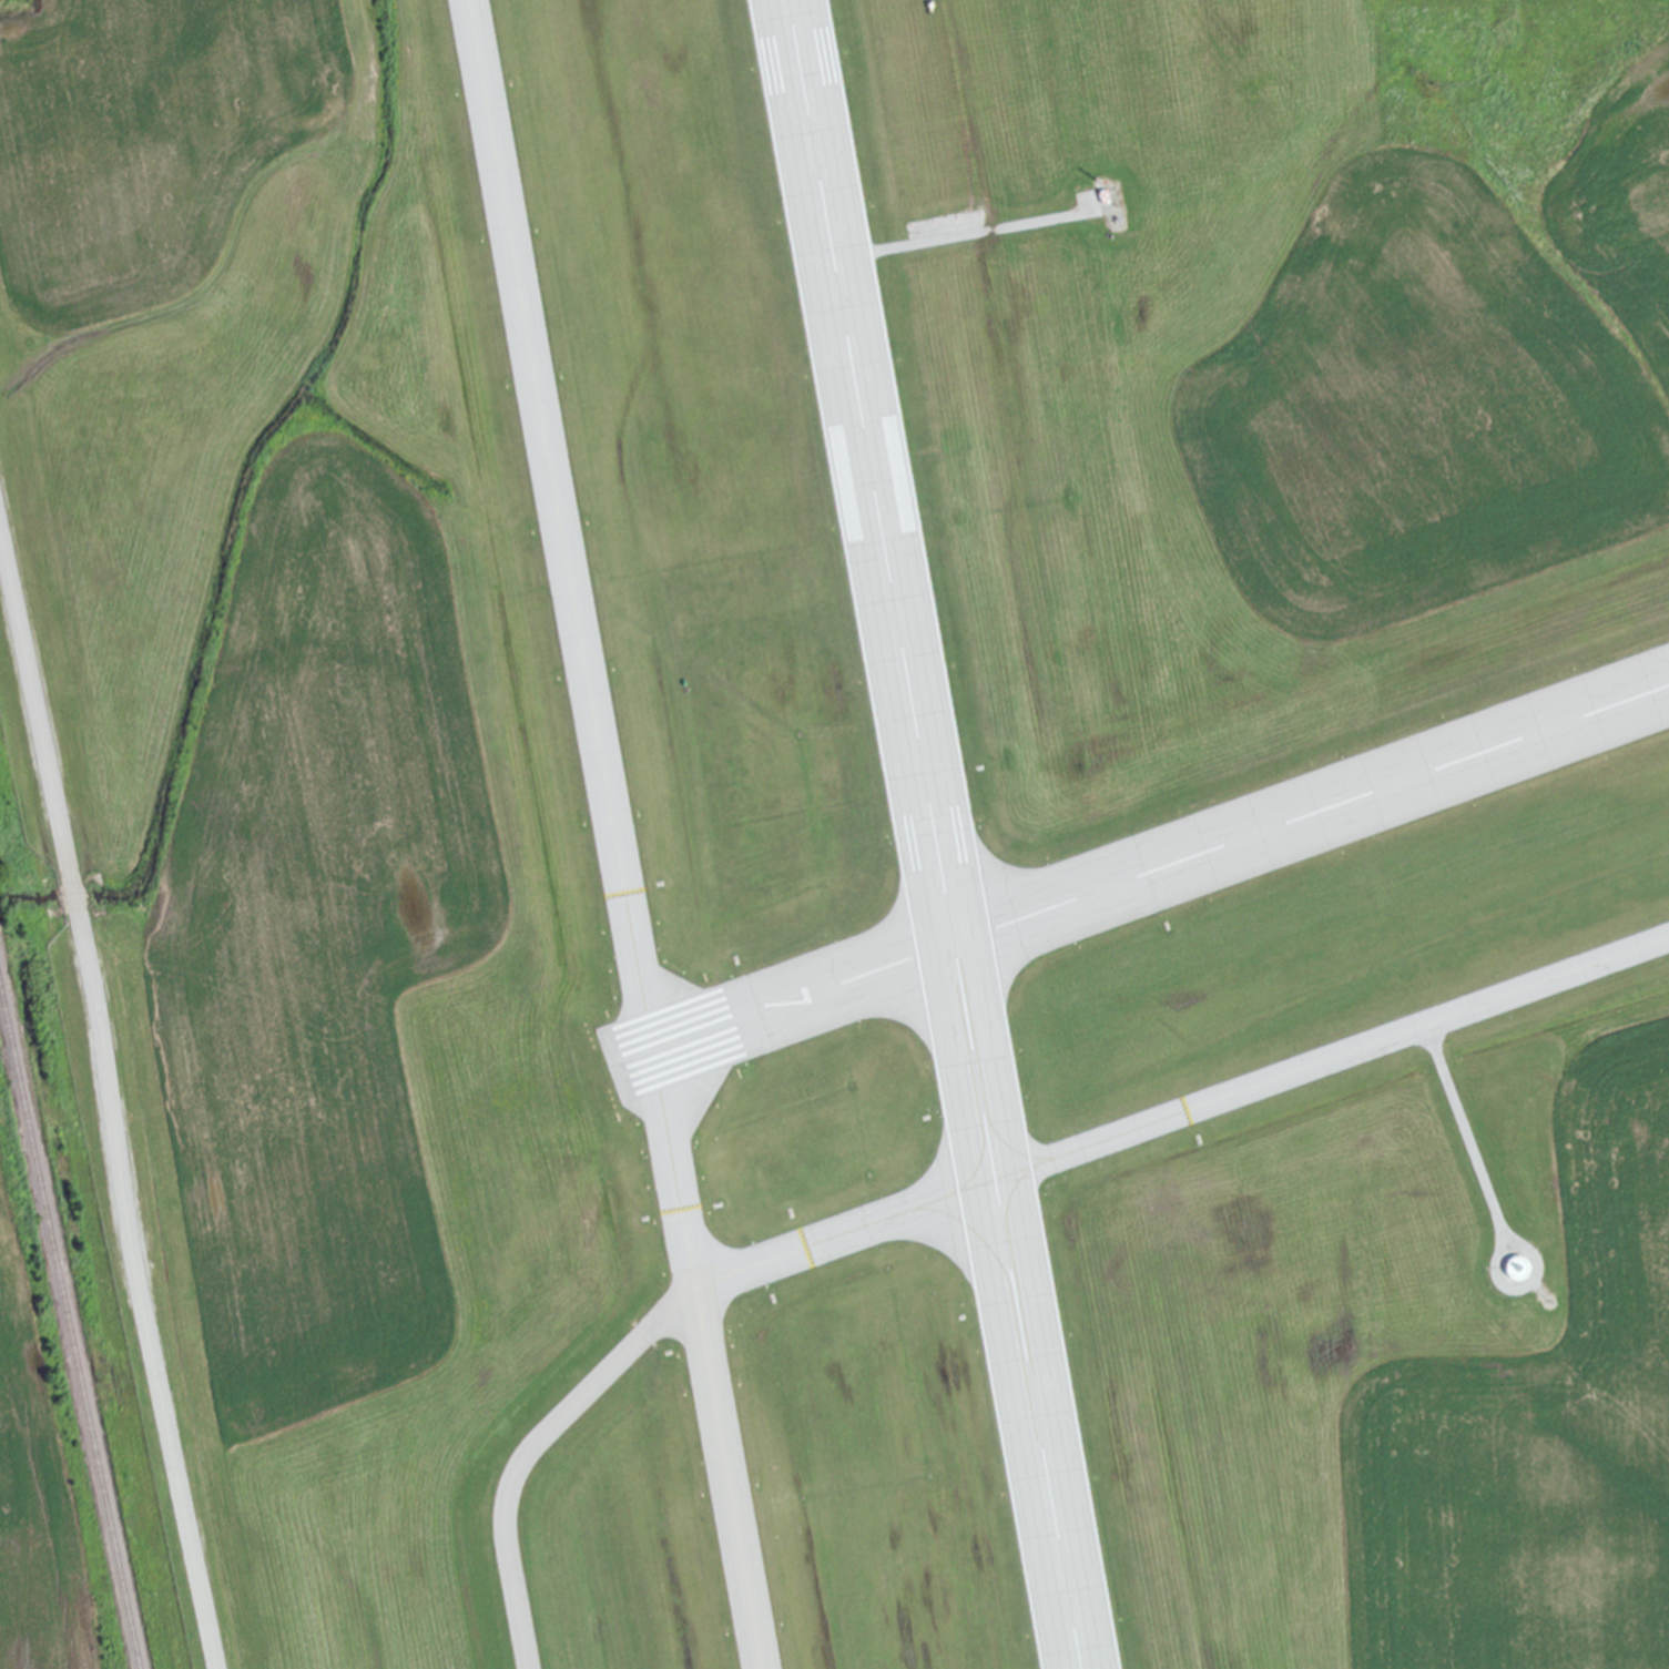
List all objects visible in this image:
road: (974, 232)
airport taxiway: (584, 644)
airport: (858, 820)
airport runway: (937, 834)
airport runway: (1140, 874)
road: (110, 1092)
airport taxiway: (1181, 1113)
road: (1495, 1202)
railway: (70, 1323)
airport taxiway: (533, 1449)
airport taxiway: (726, 1479)

